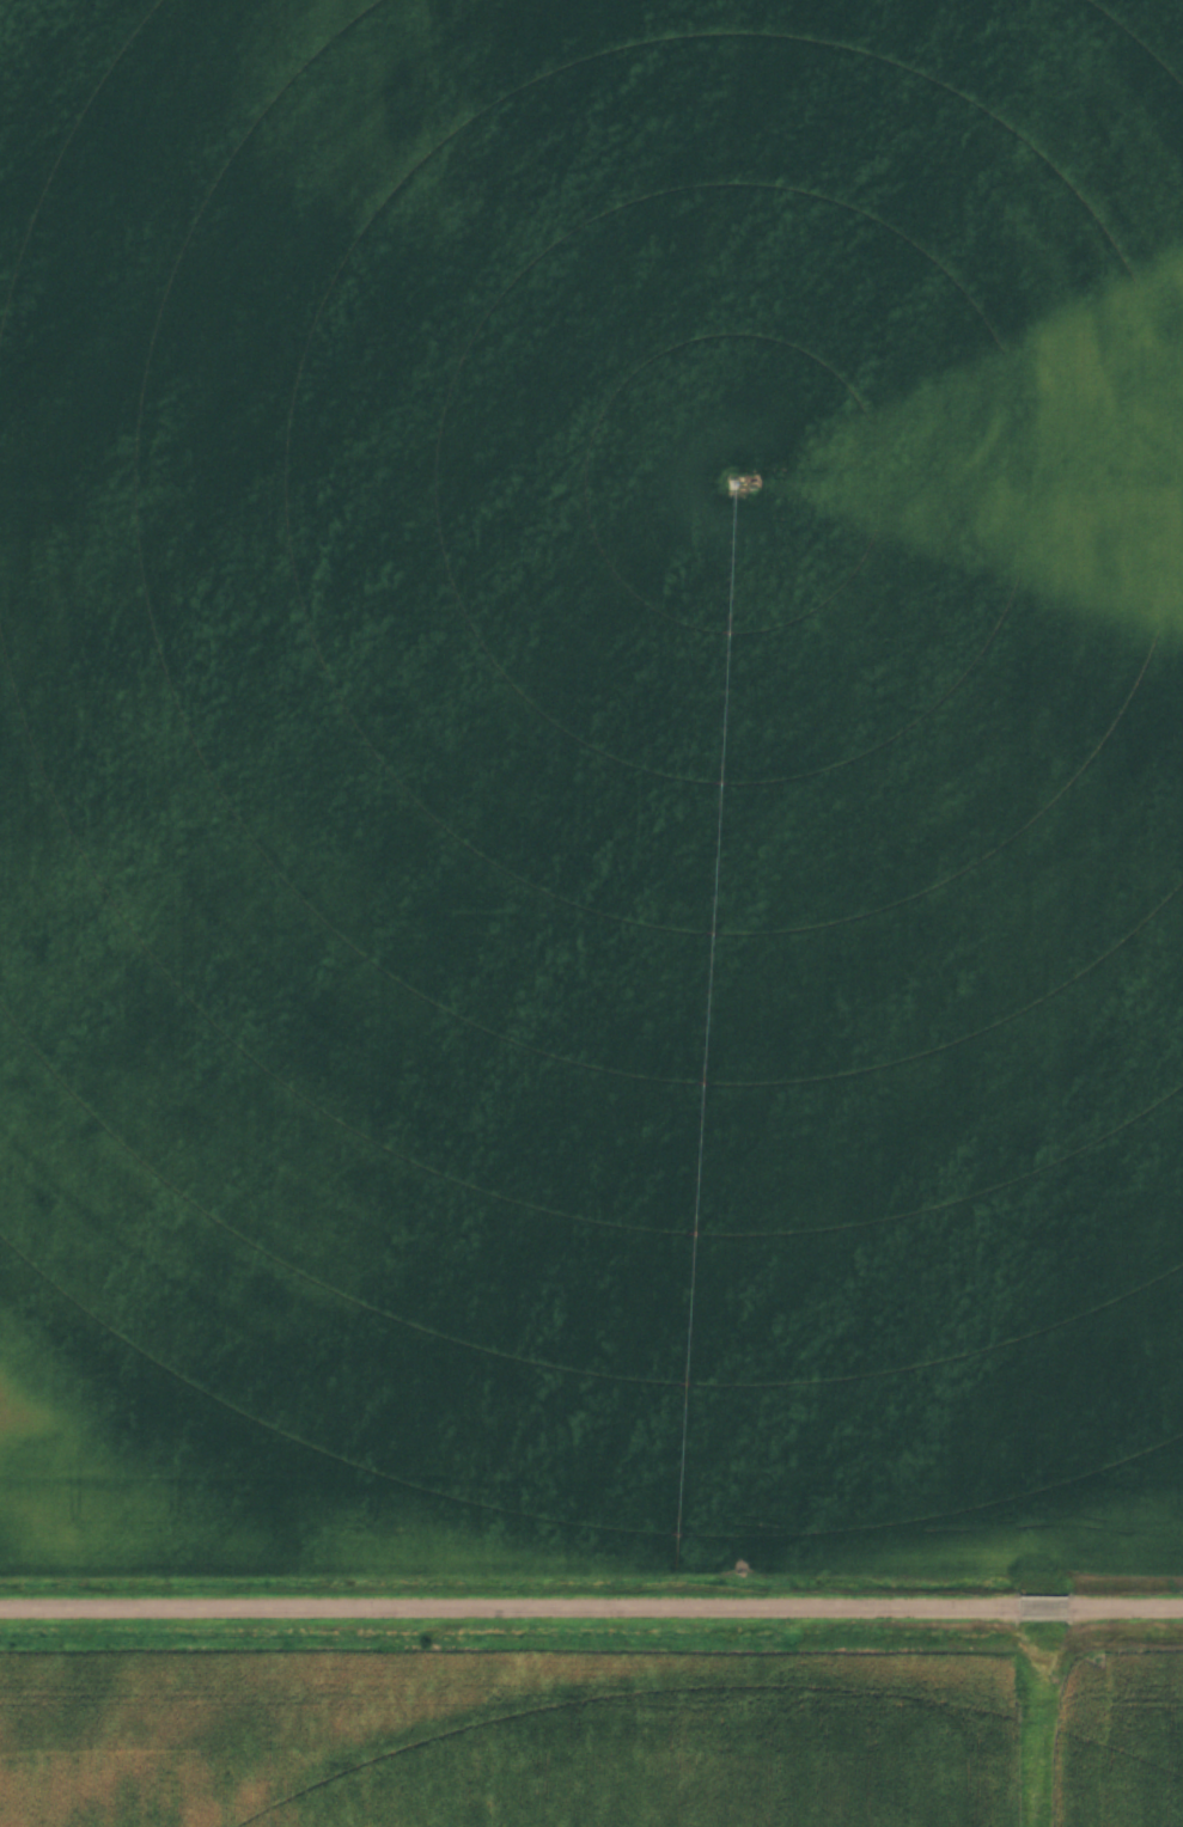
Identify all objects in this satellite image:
road: (591, 1611)

